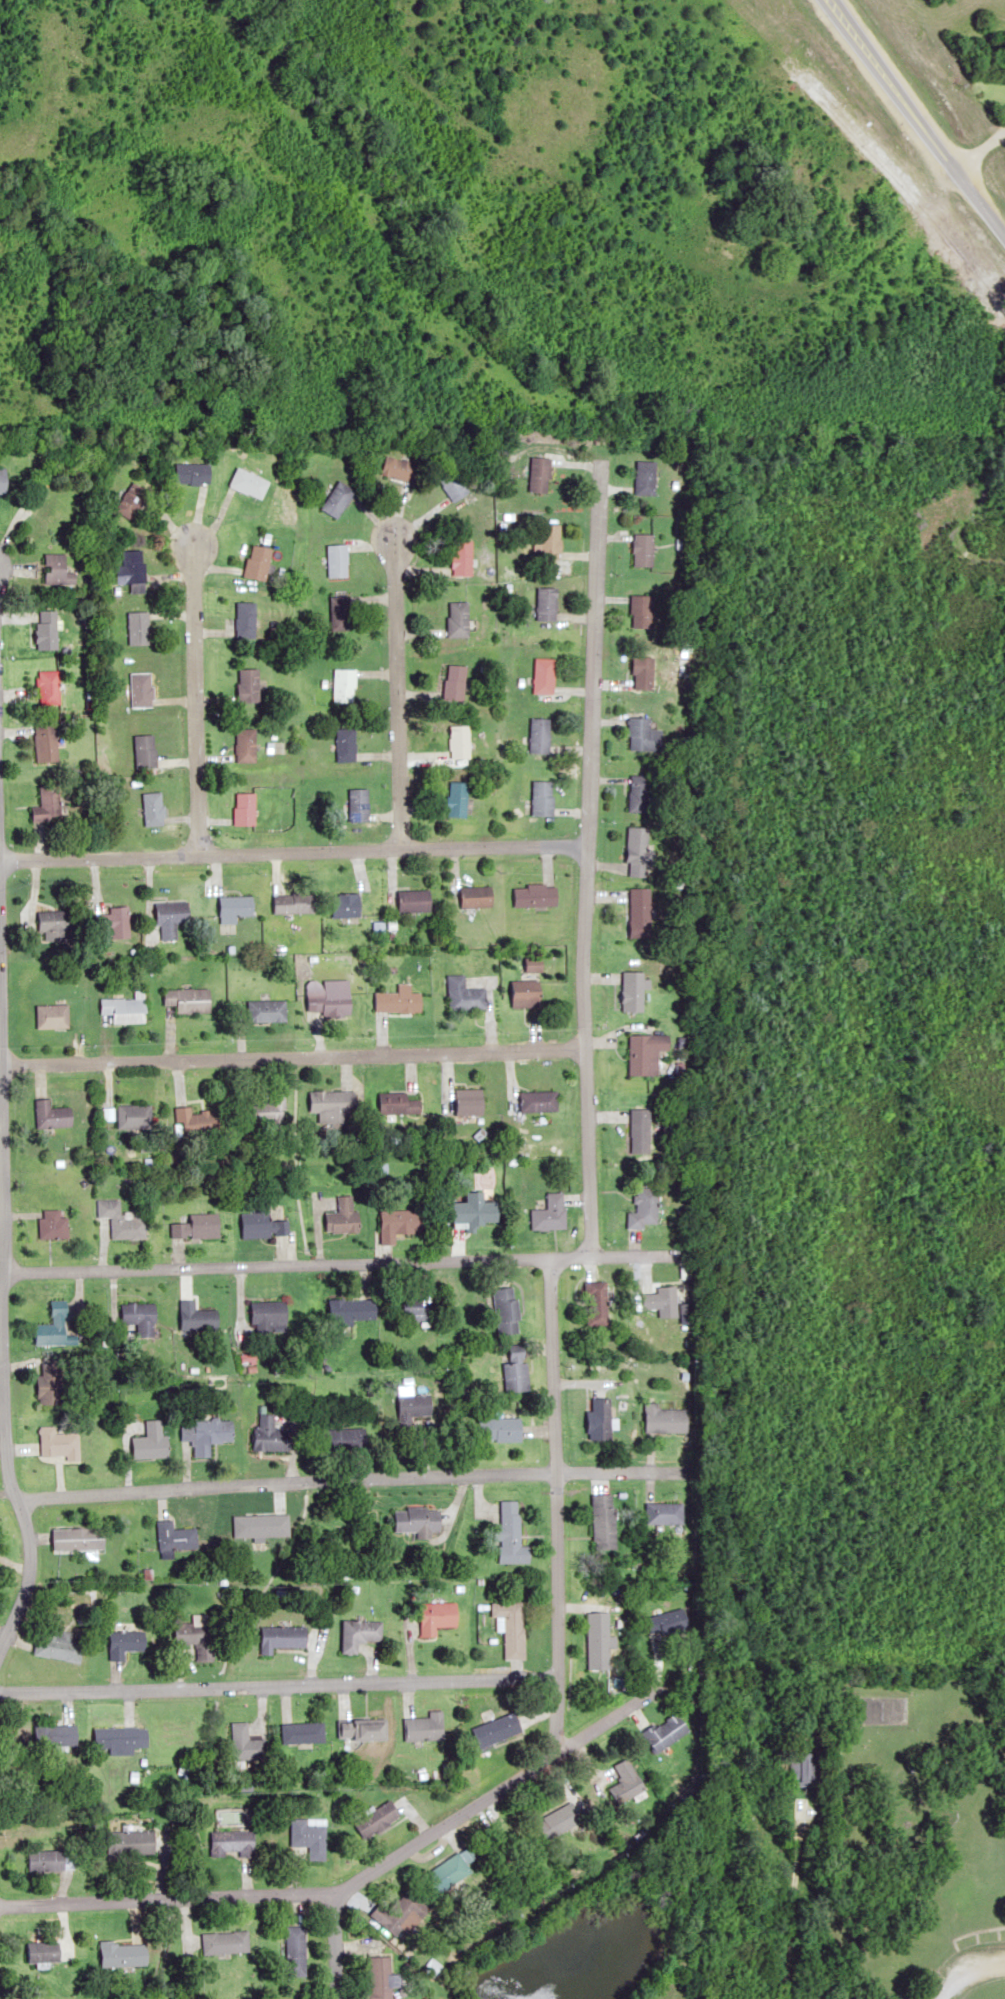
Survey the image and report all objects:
road: (914, 124)
road: (504, 146)
building: (396, 468)
building: (194, 473)
building: (539, 474)
building: (644, 477)
building: (2, 479)
building: (249, 482)
building: (336, 499)
building: (132, 500)
building: (54, 510)
building: (548, 541)
building: (642, 549)
building: (461, 557)
building: (337, 560)
building: (258, 562)
building: (56, 569)
building: (132, 570)
building: (546, 603)
building: (640, 611)
building: (338, 613)
building: (457, 619)
building: (245, 620)
building: (138, 627)
building: (45, 629)
building: (643, 672)
building: (543, 675)
building: (454, 682)
building: (249, 685)
building: (343, 685)
building: (47, 687)
building: (142, 689)
road: (396, 690)
road: (194, 698)
building: (541, 735)
building: (644, 735)
building: (43, 742)
building: (459, 742)
building: (344, 744)
building: (245, 745)
building: (145, 751)
building: (639, 793)
building: (457, 798)
building: (543, 798)
building: (45, 804)
building: (358, 804)
building: (152, 808)
building: (245, 808)
building: (638, 851)
road: (292, 852)
road: (585, 859)
building: (536, 895)
building: (477, 897)
building: (415, 901)
building: (293, 903)
building: (345, 905)
building: (233, 908)
building: (640, 913)
building: (169, 918)
building: (55, 923)
building: (111, 924)
building: (534, 964)
building: (633, 991)
building: (463, 994)
building: (526, 994)
building: (331, 998)
building: (187, 1000)
building: (396, 1002)
building: (126, 1008)
building: (265, 1011)
building: (52, 1016)
building: (647, 1053)
road: (291, 1055)
building: (468, 1101)
building: (539, 1101)
building: (330, 1104)
building: (398, 1104)
building: (265, 1110)
building: (51, 1115)
building: (135, 1116)
building: (196, 1119)
building: (641, 1130)
building: (645, 1206)
building: (475, 1210)
building: (550, 1213)
building: (341, 1216)
building: (122, 1220)
building: (262, 1221)
building: (396, 1223)
building: (51, 1224)
building: (197, 1227)
road: (336, 1264)
building: (662, 1301)
building: (596, 1303)
building: (504, 1308)
building: (350, 1309)
building: (415, 1312)
building: (140, 1317)
building: (198, 1317)
building: (269, 1317)
building: (53, 1326)
building: (513, 1372)
building: (50, 1383)
building: (409, 1409)
building: (665, 1419)
building: (598, 1420)
building: (497, 1428)
building: (269, 1434)
building: (206, 1435)
building: (340, 1439)
building: (152, 1442)
road: (347, 1481)
road: (12, 1492)
road: (551, 1506)
building: (664, 1513)
building: (416, 1520)
building: (603, 1521)
building: (254, 1525)
building: (509, 1534)
building: (175, 1537)
building: (78, 1538)
building: (435, 1617)
building: (667, 1620)
building: (509, 1627)
building: (357, 1633)
building: (196, 1636)
building: (281, 1637)
building: (598, 1640)
building: (125, 1644)
building: (56, 1645)
road: (276, 1686)
building: (423, 1727)
building: (496, 1728)
building: (359, 1730)
building: (666, 1731)
building: (300, 1733)
building: (56, 1735)
building: (119, 1738)
building: (243, 1743)
building: (801, 1767)
building: (625, 1781)
building: (374, 1819)
building: (558, 1820)
building: (306, 1836)
building: (131, 1841)
building: (230, 1842)
building: (51, 1859)
building: (452, 1871)
road: (354, 1880)
building: (398, 1913)
building: (223, 1942)
road: (335, 1946)
building: (293, 1950)
building: (44, 1951)
building: (123, 1954)
road: (964, 1970)
building: (379, 1978)

